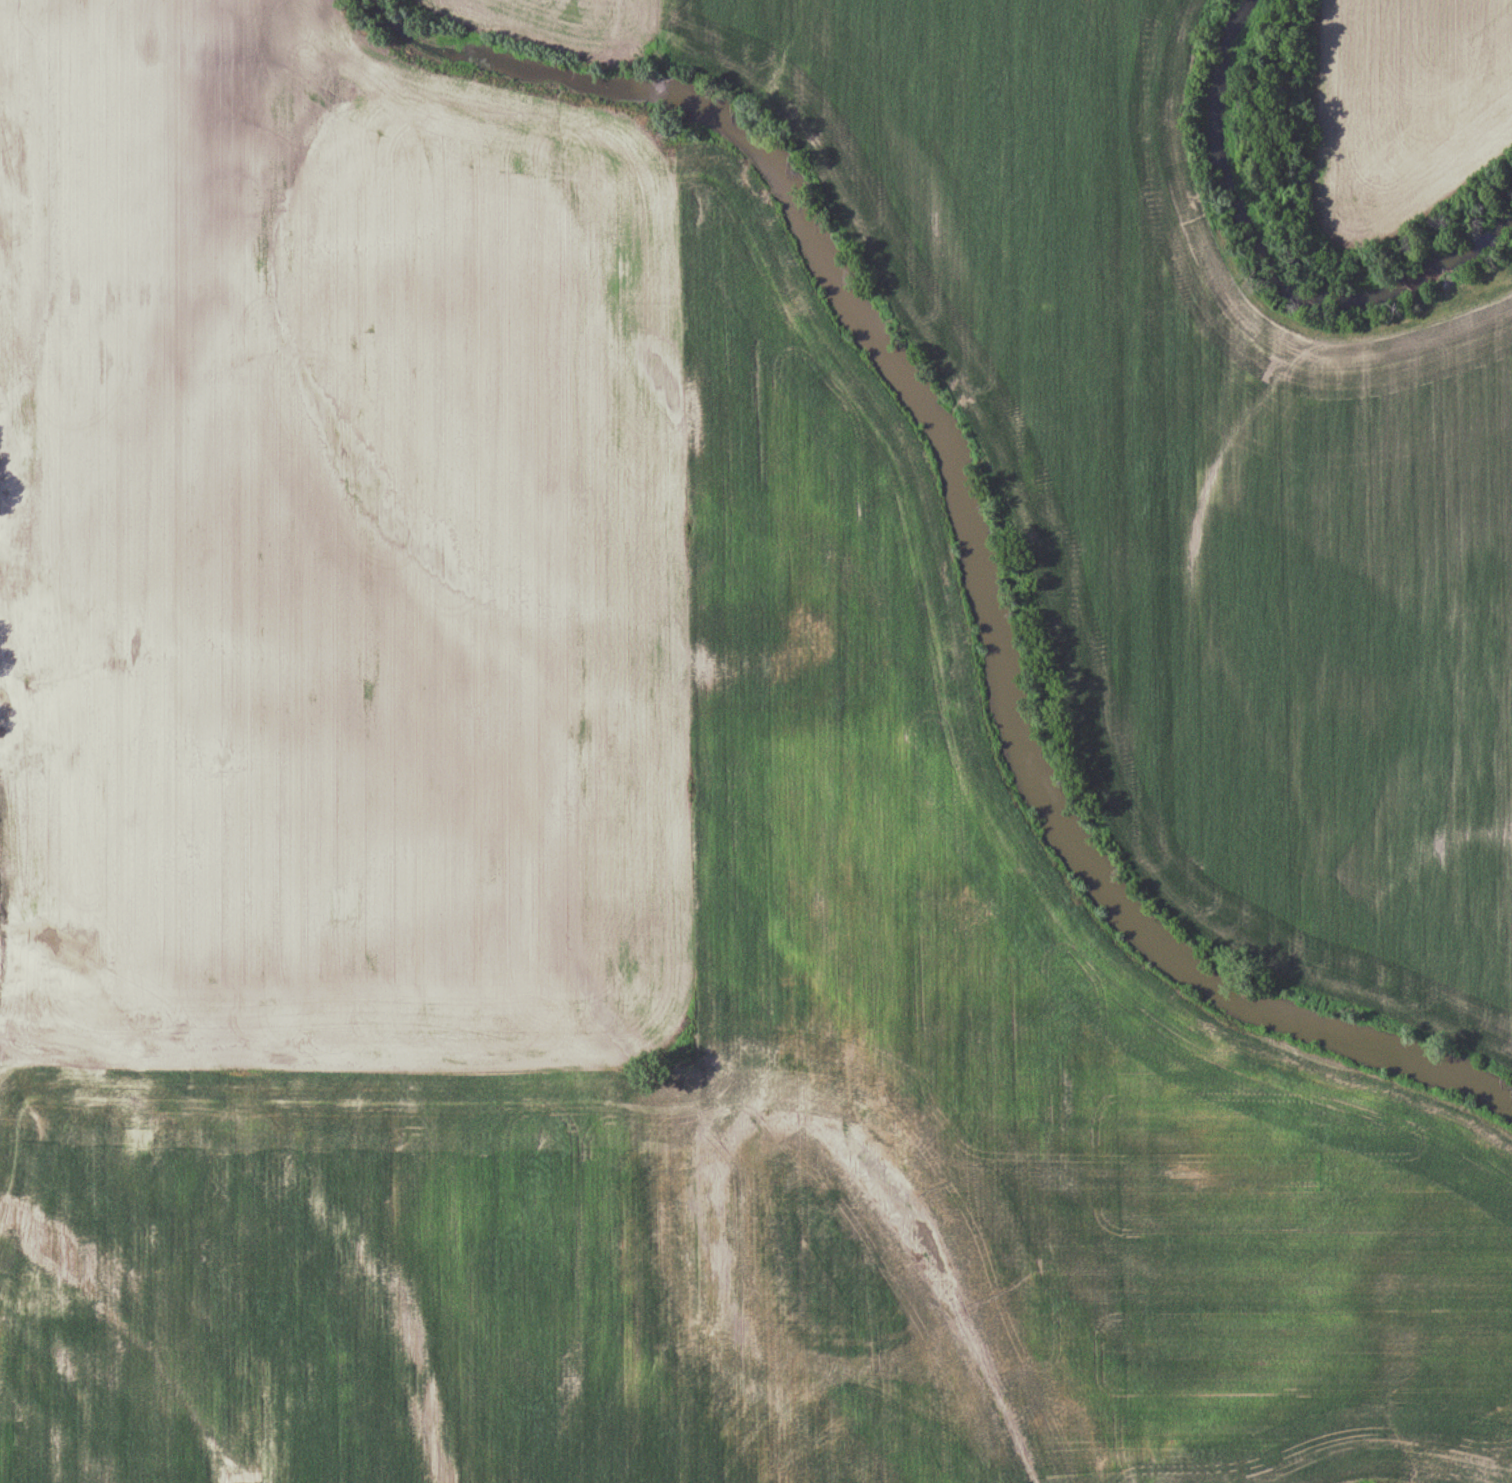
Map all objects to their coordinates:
road: (345, 560)
road: (315, 1073)
road: (625, 1281)

